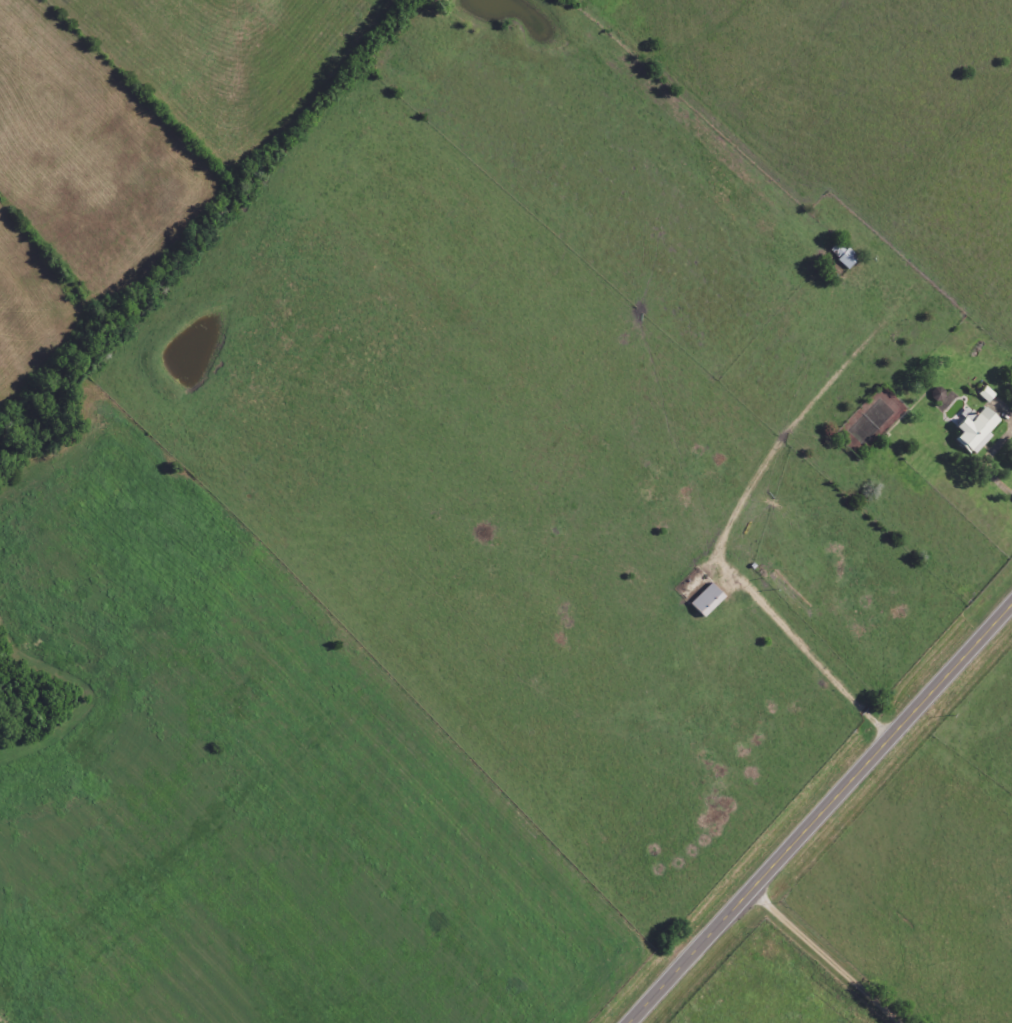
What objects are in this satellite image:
building: (844, 255)
building: (987, 395)
building: (978, 431)
road: (984, 453)
building: (708, 600)
road: (820, 813)
road: (824, 958)

